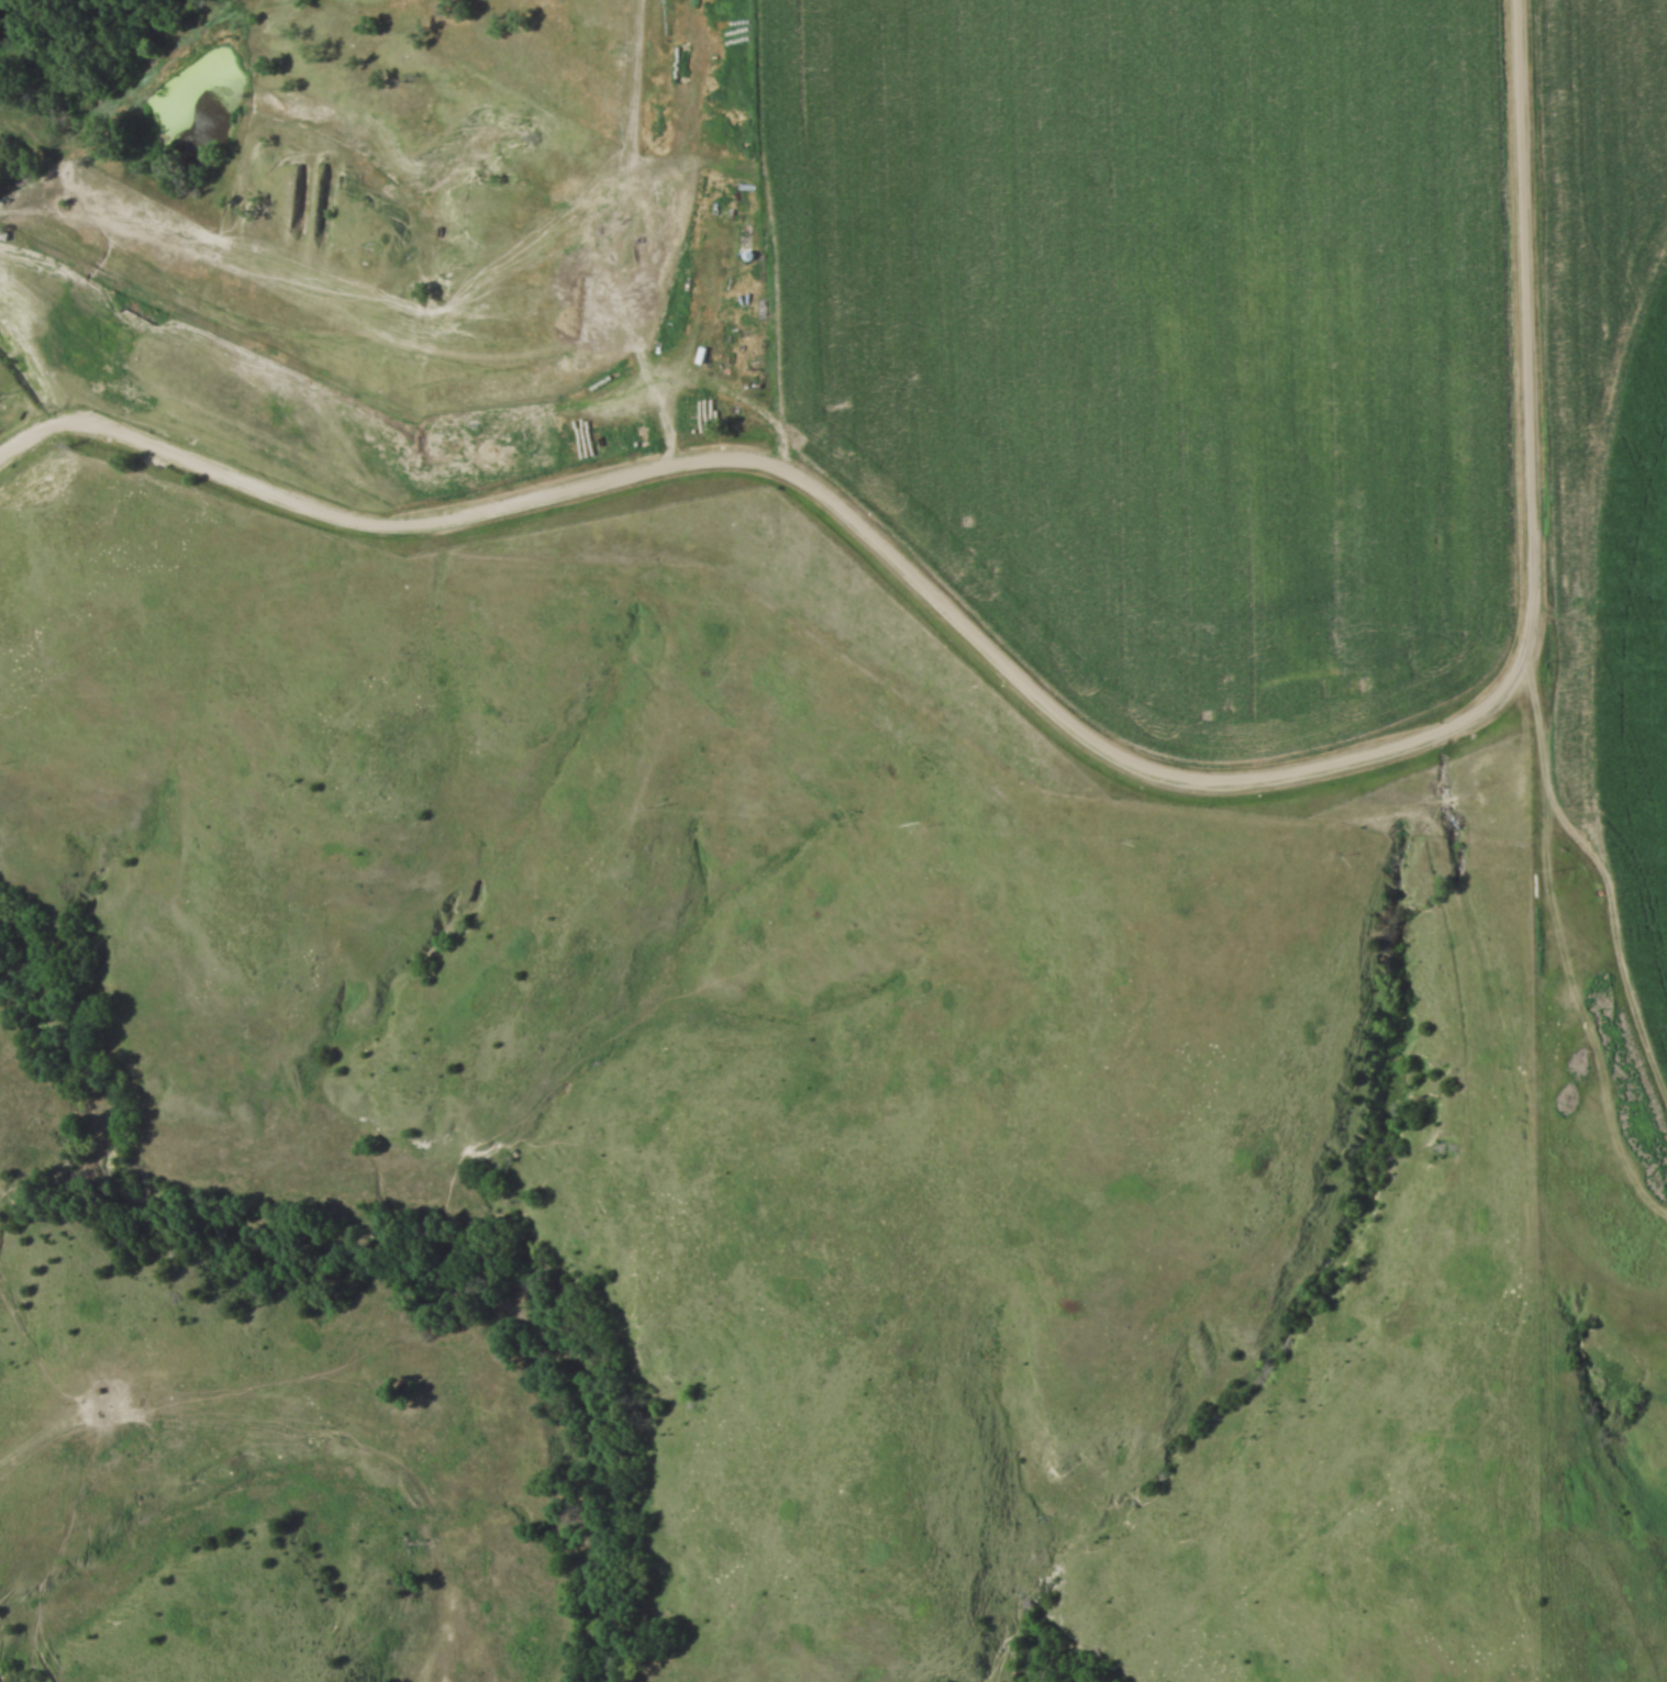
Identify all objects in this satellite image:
road: (32, 383)
road: (1056, 715)

